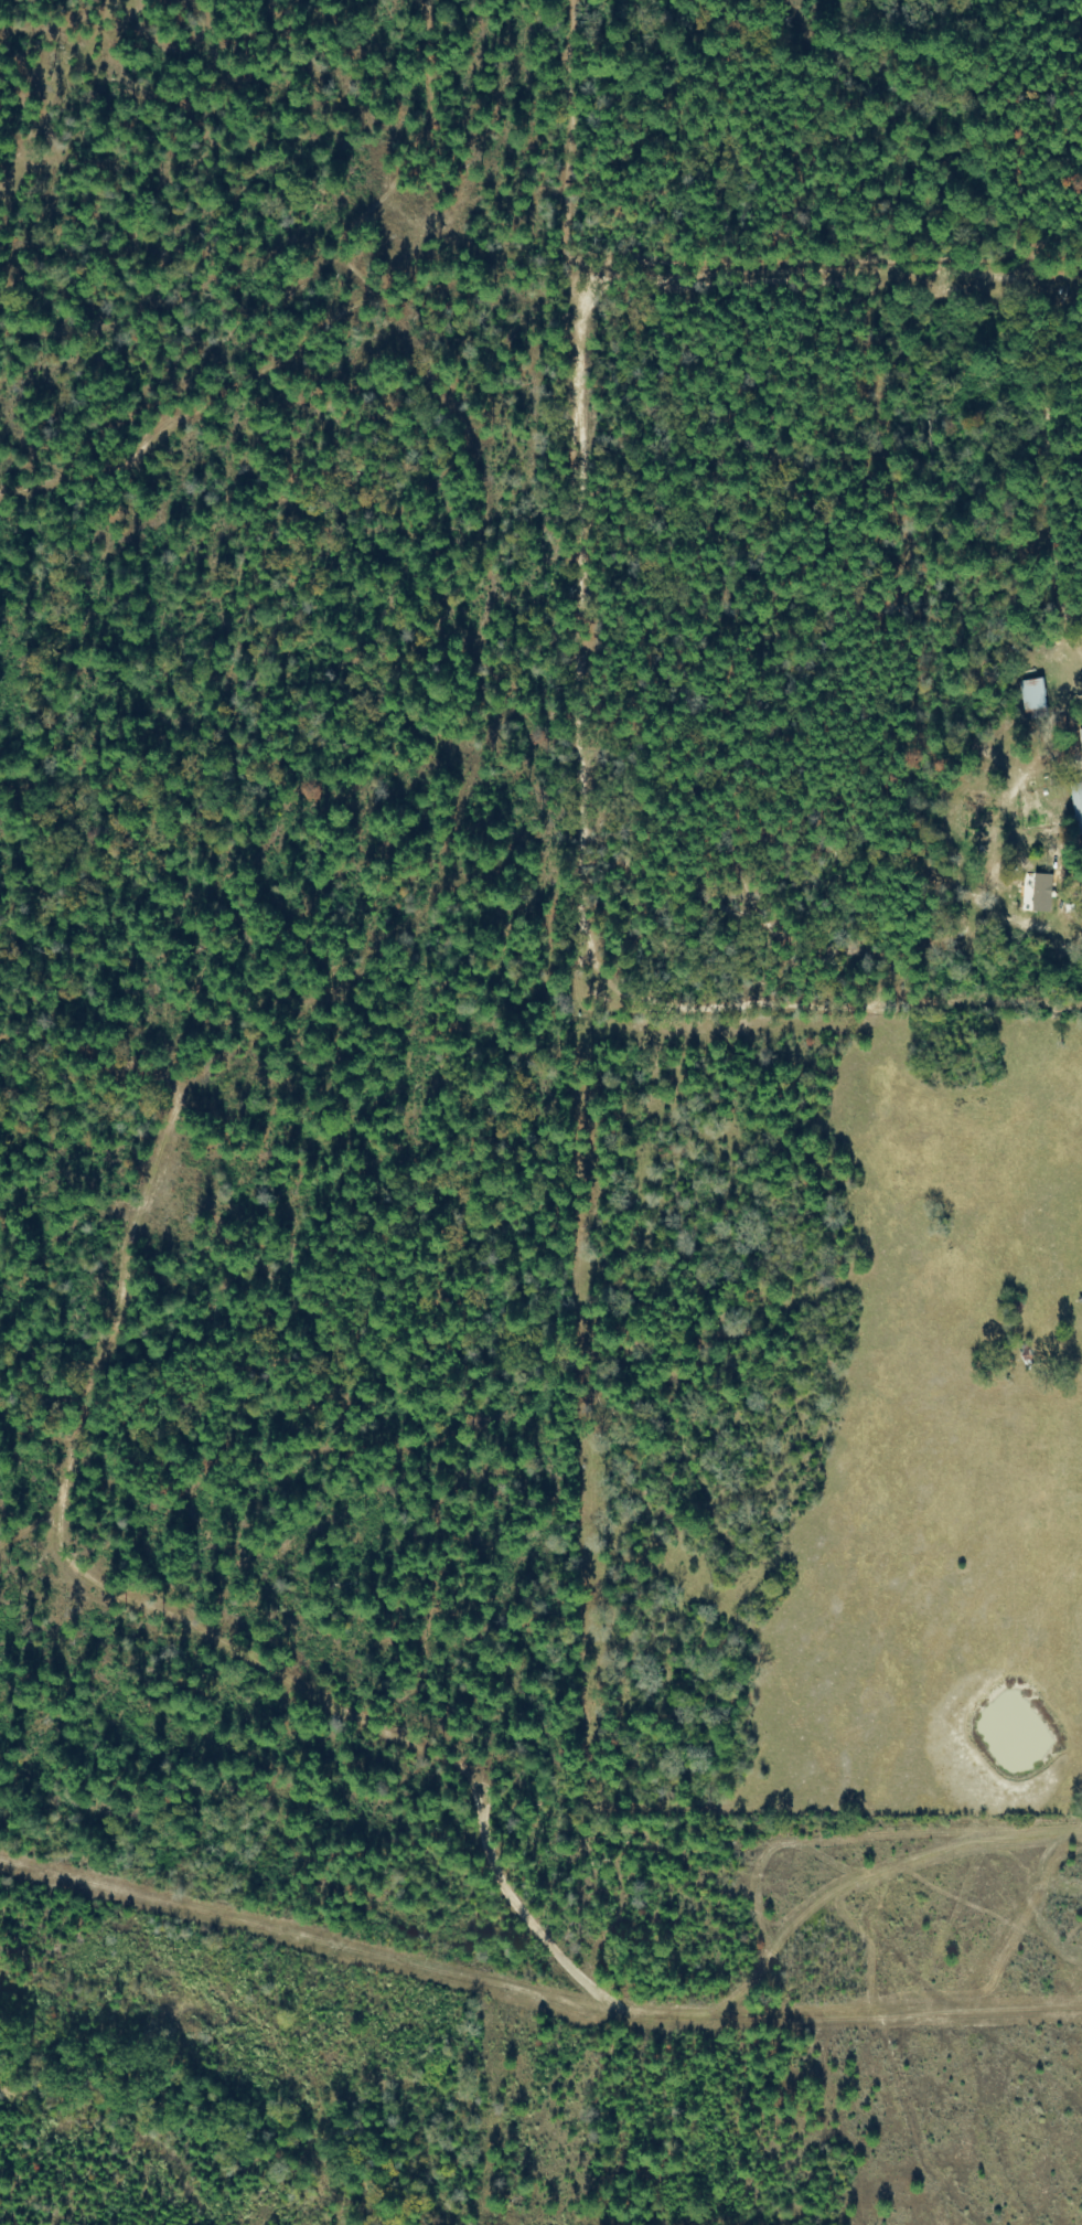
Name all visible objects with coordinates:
building: (1033, 701)
building: (1081, 738)
building: (1078, 806)
building: (1076, 1119)

